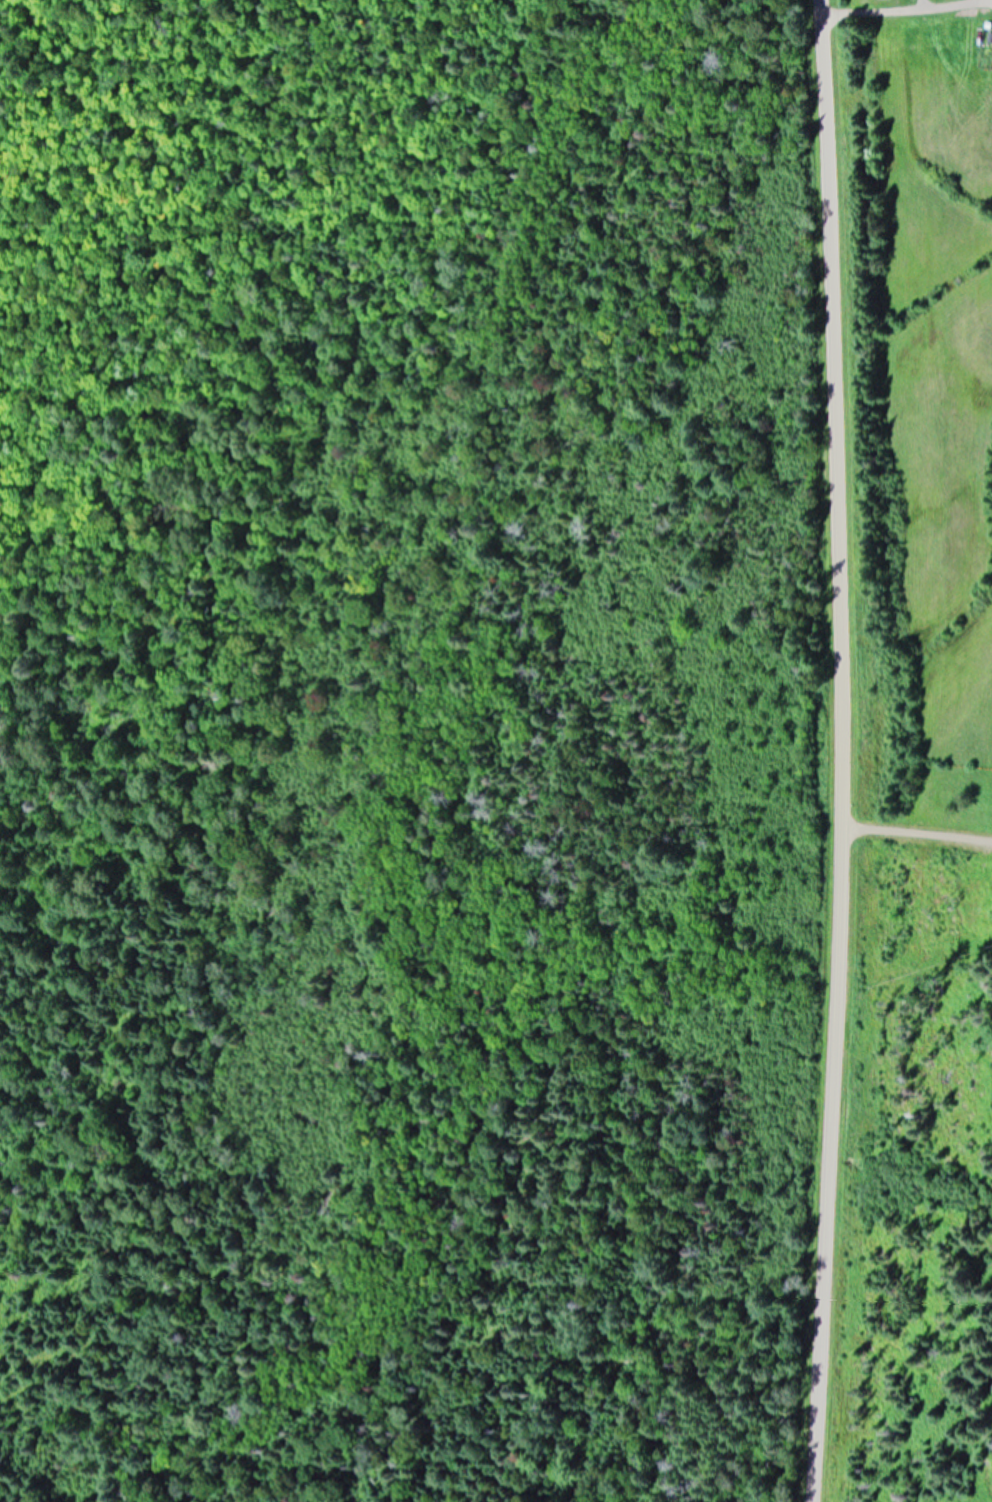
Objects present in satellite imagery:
road: (906, 13)
road: (842, 751)
road: (918, 845)

